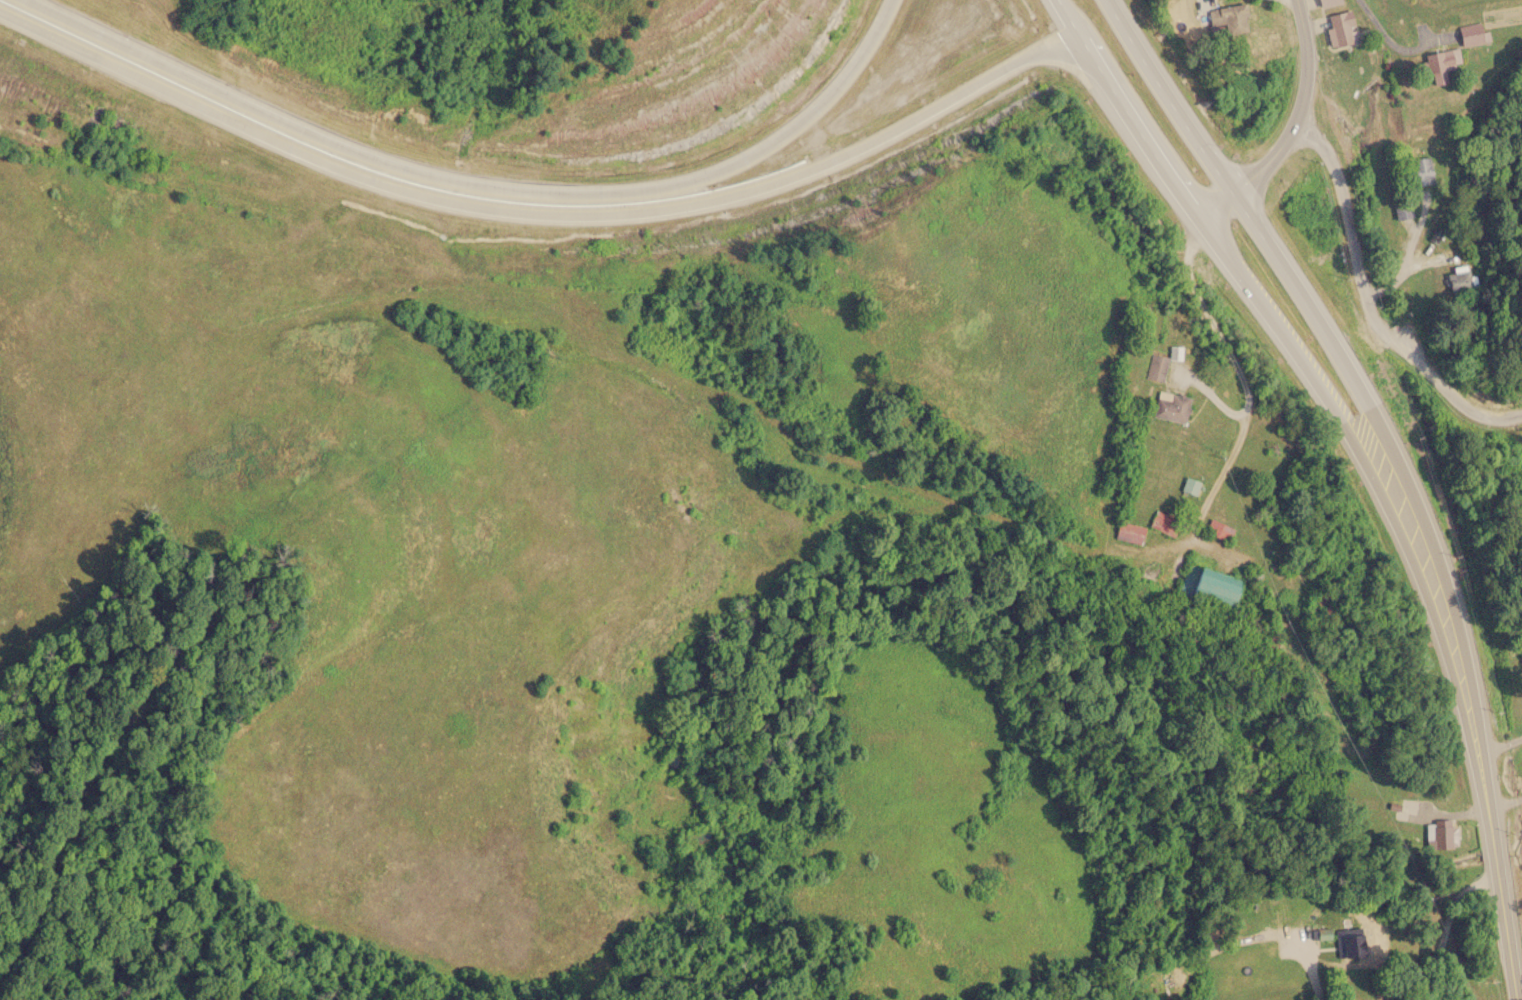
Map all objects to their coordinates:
building: (1327, 1)
road: (1066, 14)
building: (1221, 16)
building: (1341, 27)
building: (1471, 34)
building: (1266, 39)
road: (1395, 43)
building: (1439, 63)
road: (1134, 127)
road: (1290, 129)
building: (1422, 170)
road: (493, 182)
building: (1402, 209)
road: (539, 225)
road: (1368, 304)
building: (1154, 366)
road: (1365, 399)
building: (1170, 406)
building: (1190, 486)
road: (1391, 515)
building: (1218, 530)
building: (1211, 585)
building: (1520, 655)
building: (1444, 834)
road: (1506, 925)
building: (1348, 946)

